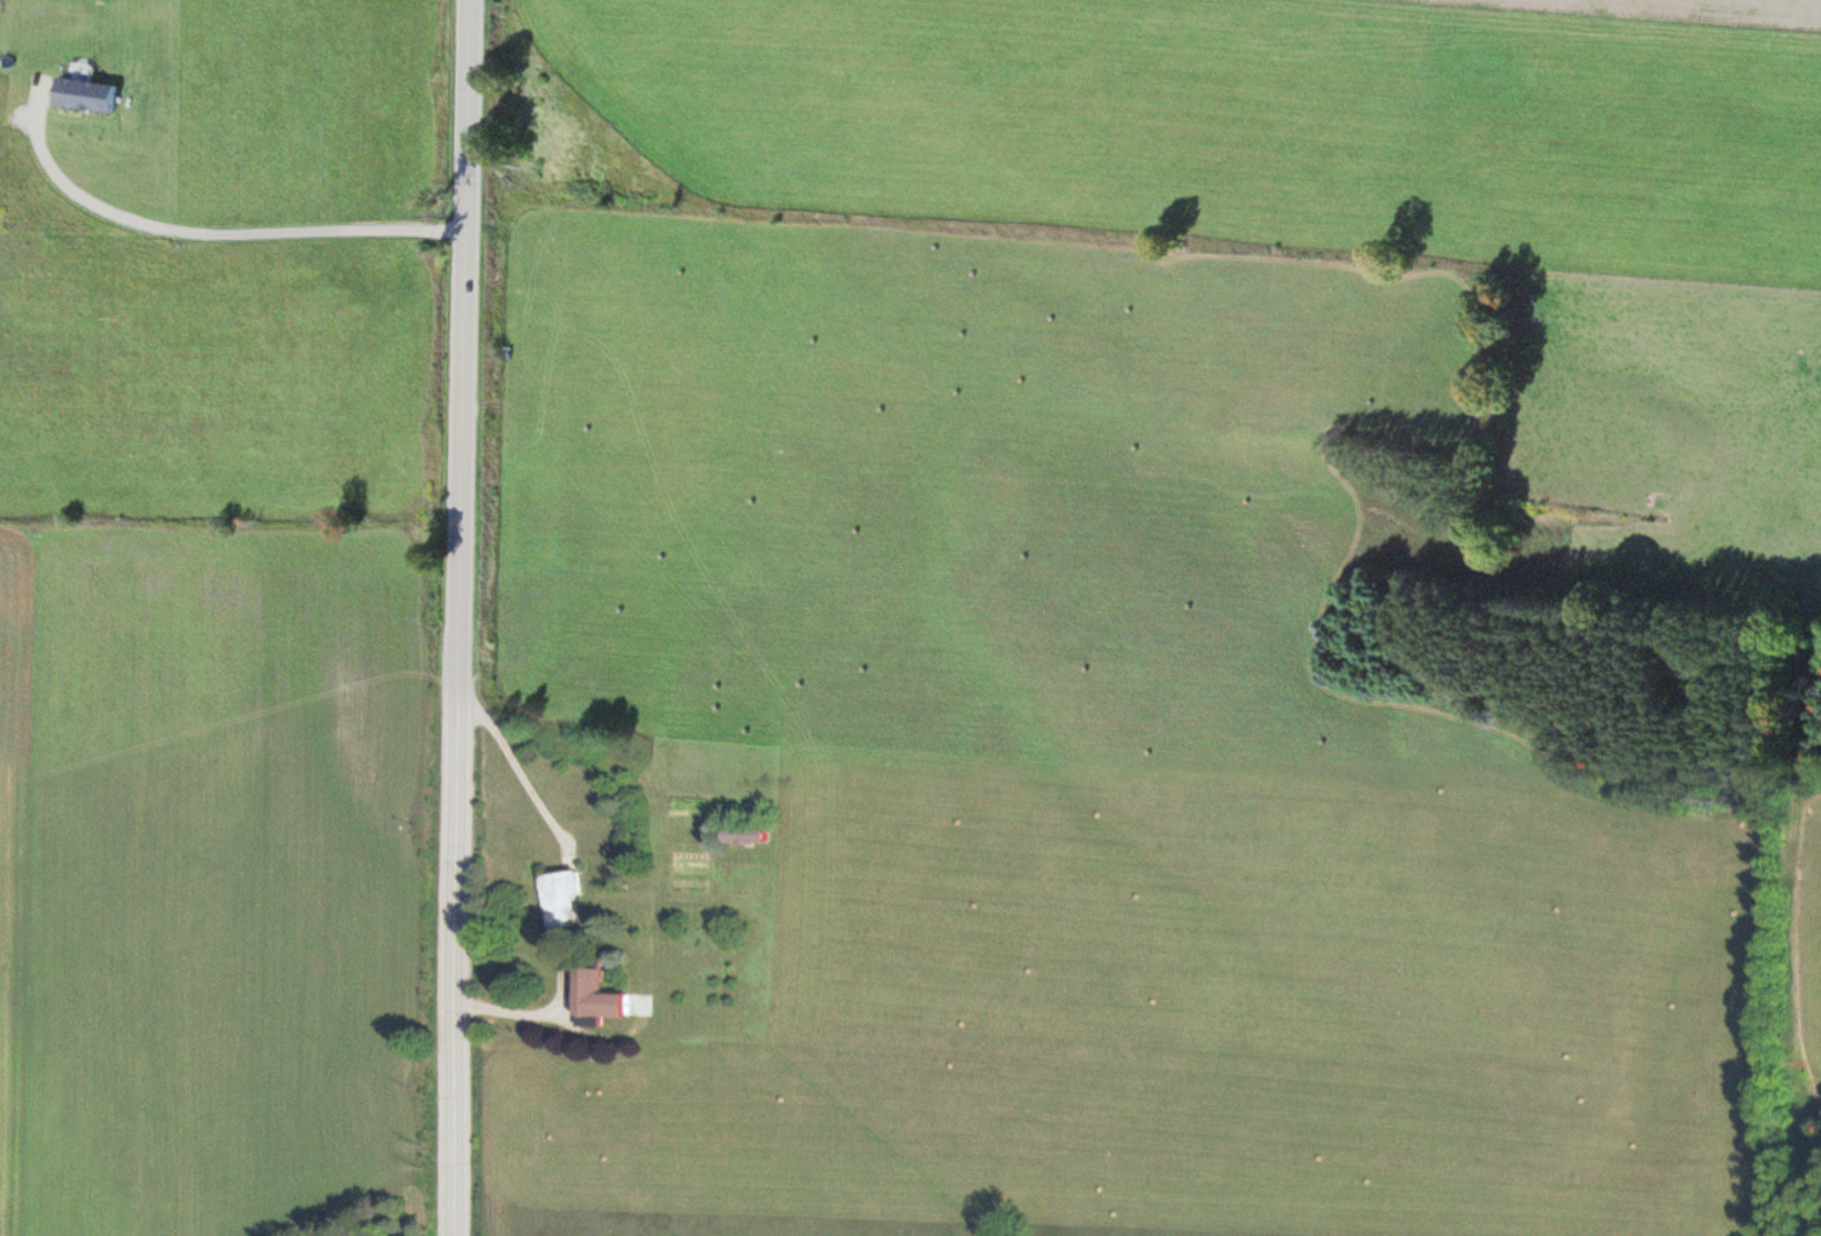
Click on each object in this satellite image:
road: (474, 618)
building: (750, 835)
building: (568, 897)
building: (606, 995)

